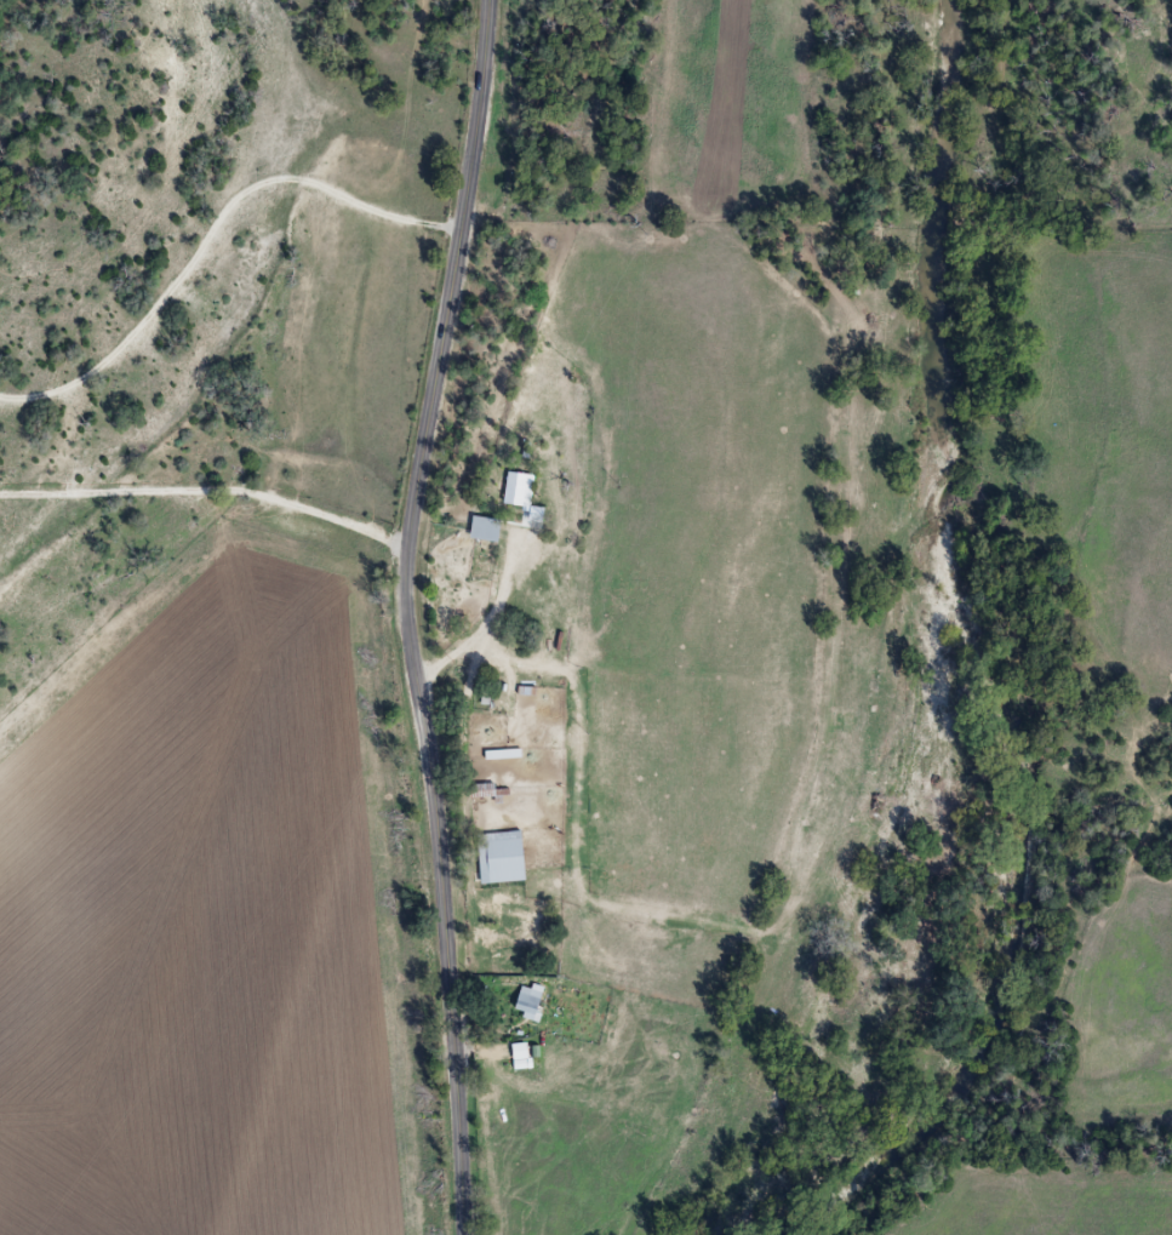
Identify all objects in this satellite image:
building: (521, 487)
road: (210, 492)
building: (488, 526)
road: (408, 616)
railway: (427, 619)
road: (829, 773)
building: (505, 858)
building: (530, 1001)
building: (521, 1054)

